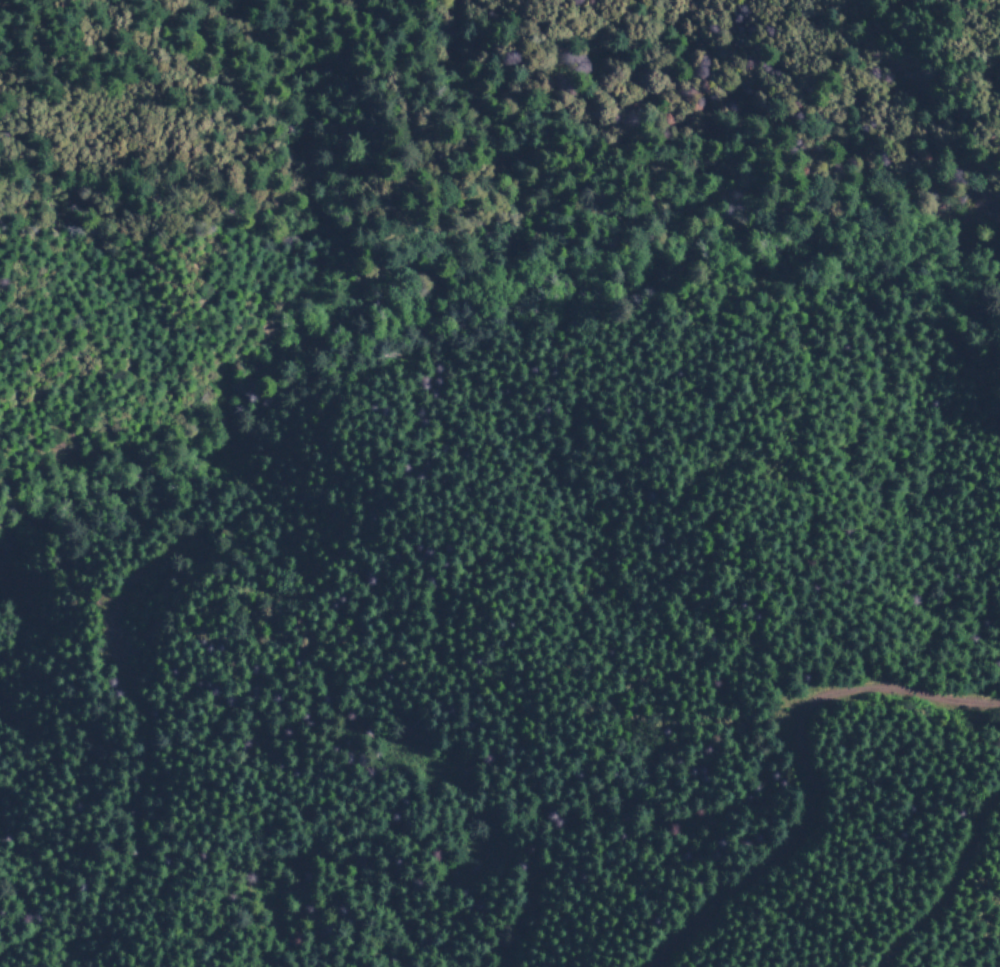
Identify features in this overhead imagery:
road: (825, 813)

